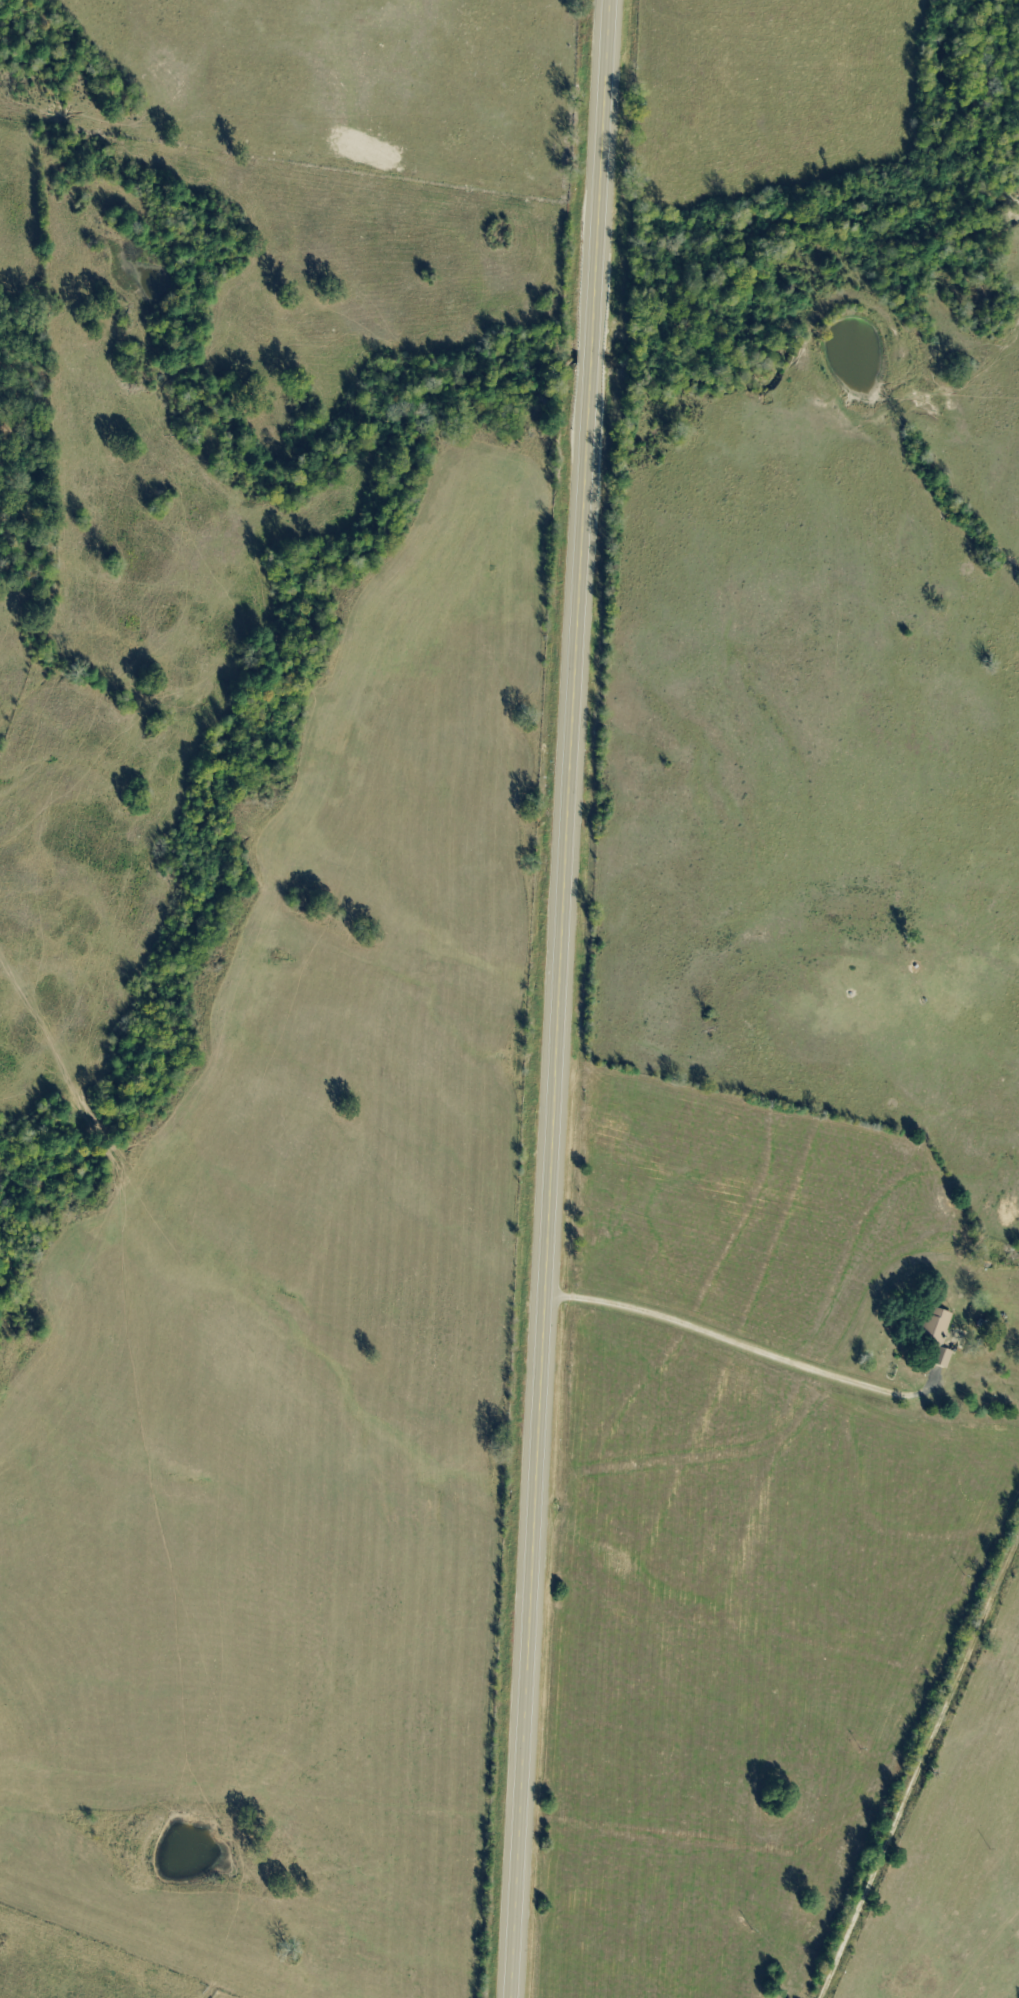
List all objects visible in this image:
road: (561, 998)
building: (942, 1327)
road: (746, 1344)
road: (919, 1768)

